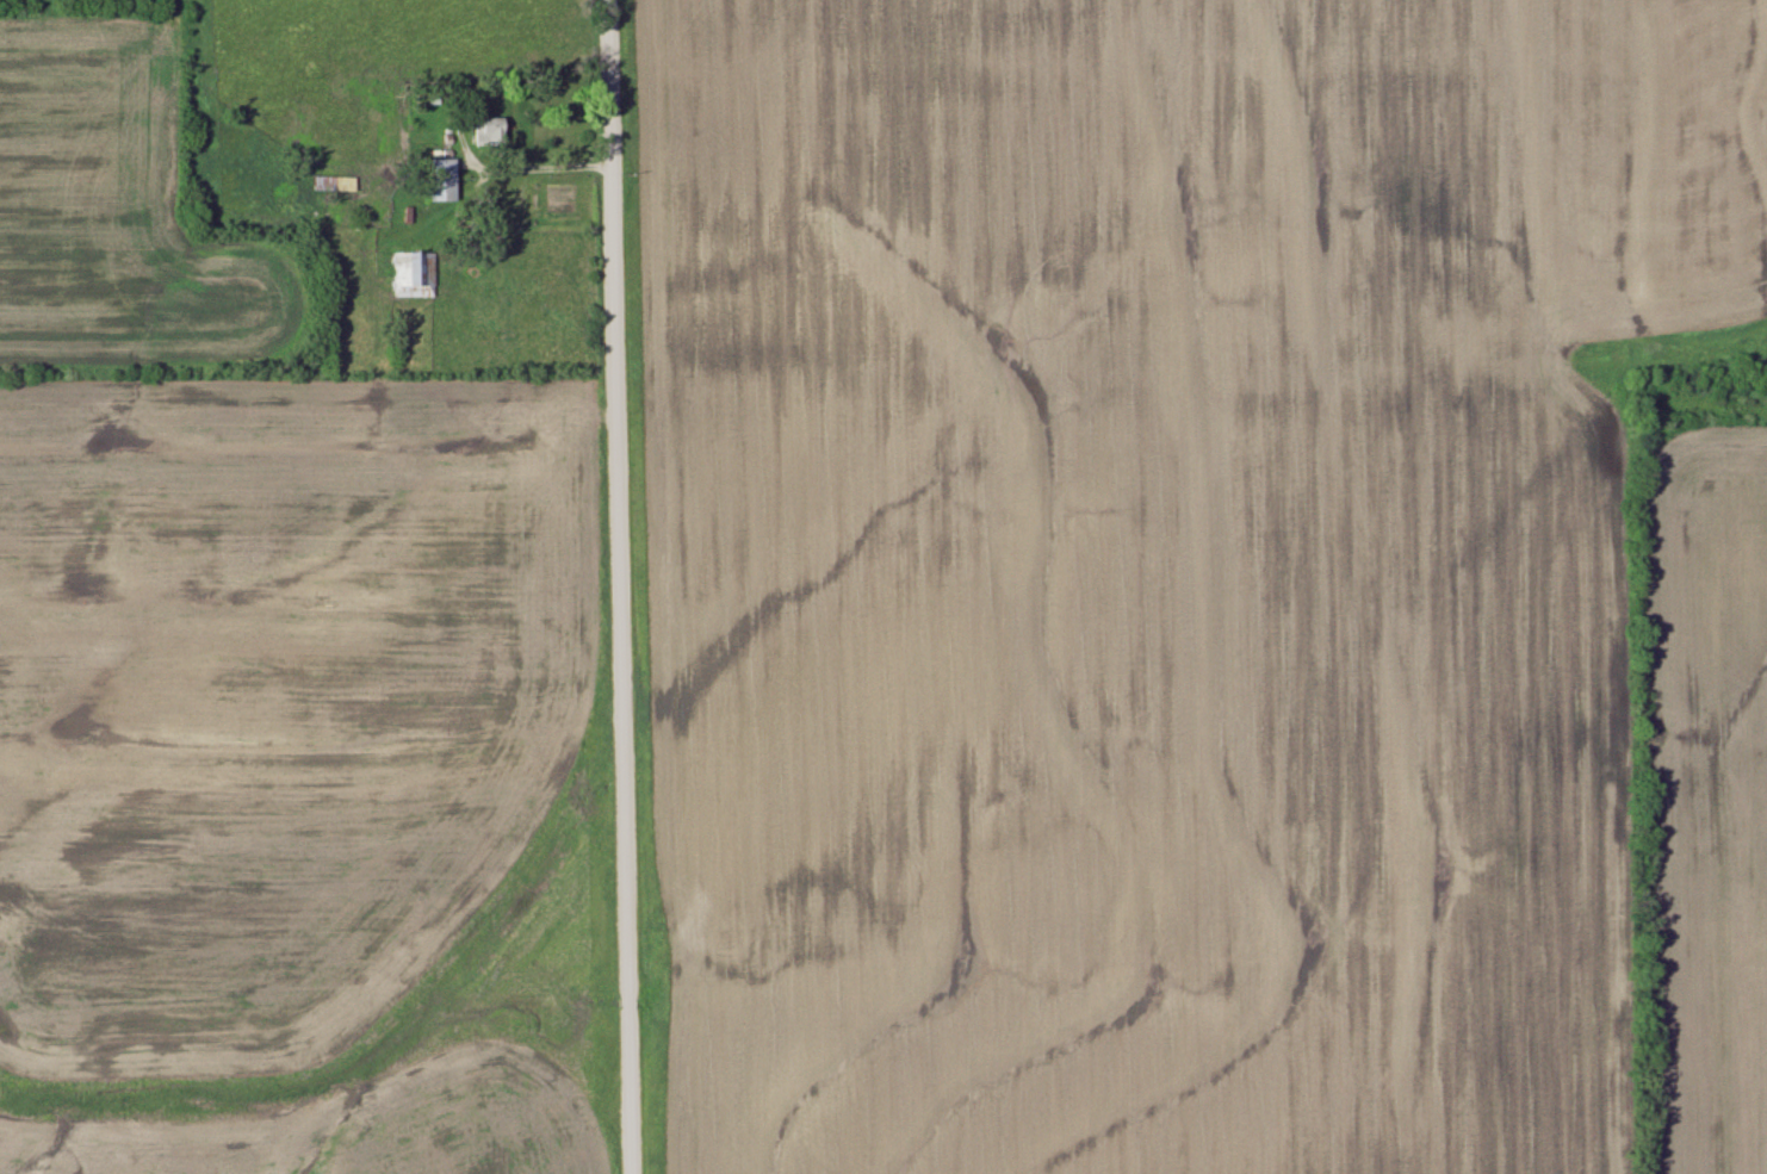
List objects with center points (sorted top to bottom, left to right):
building: (485, 131)
building: (440, 180)
building: (339, 184)
building: (410, 274)
road: (622, 586)

